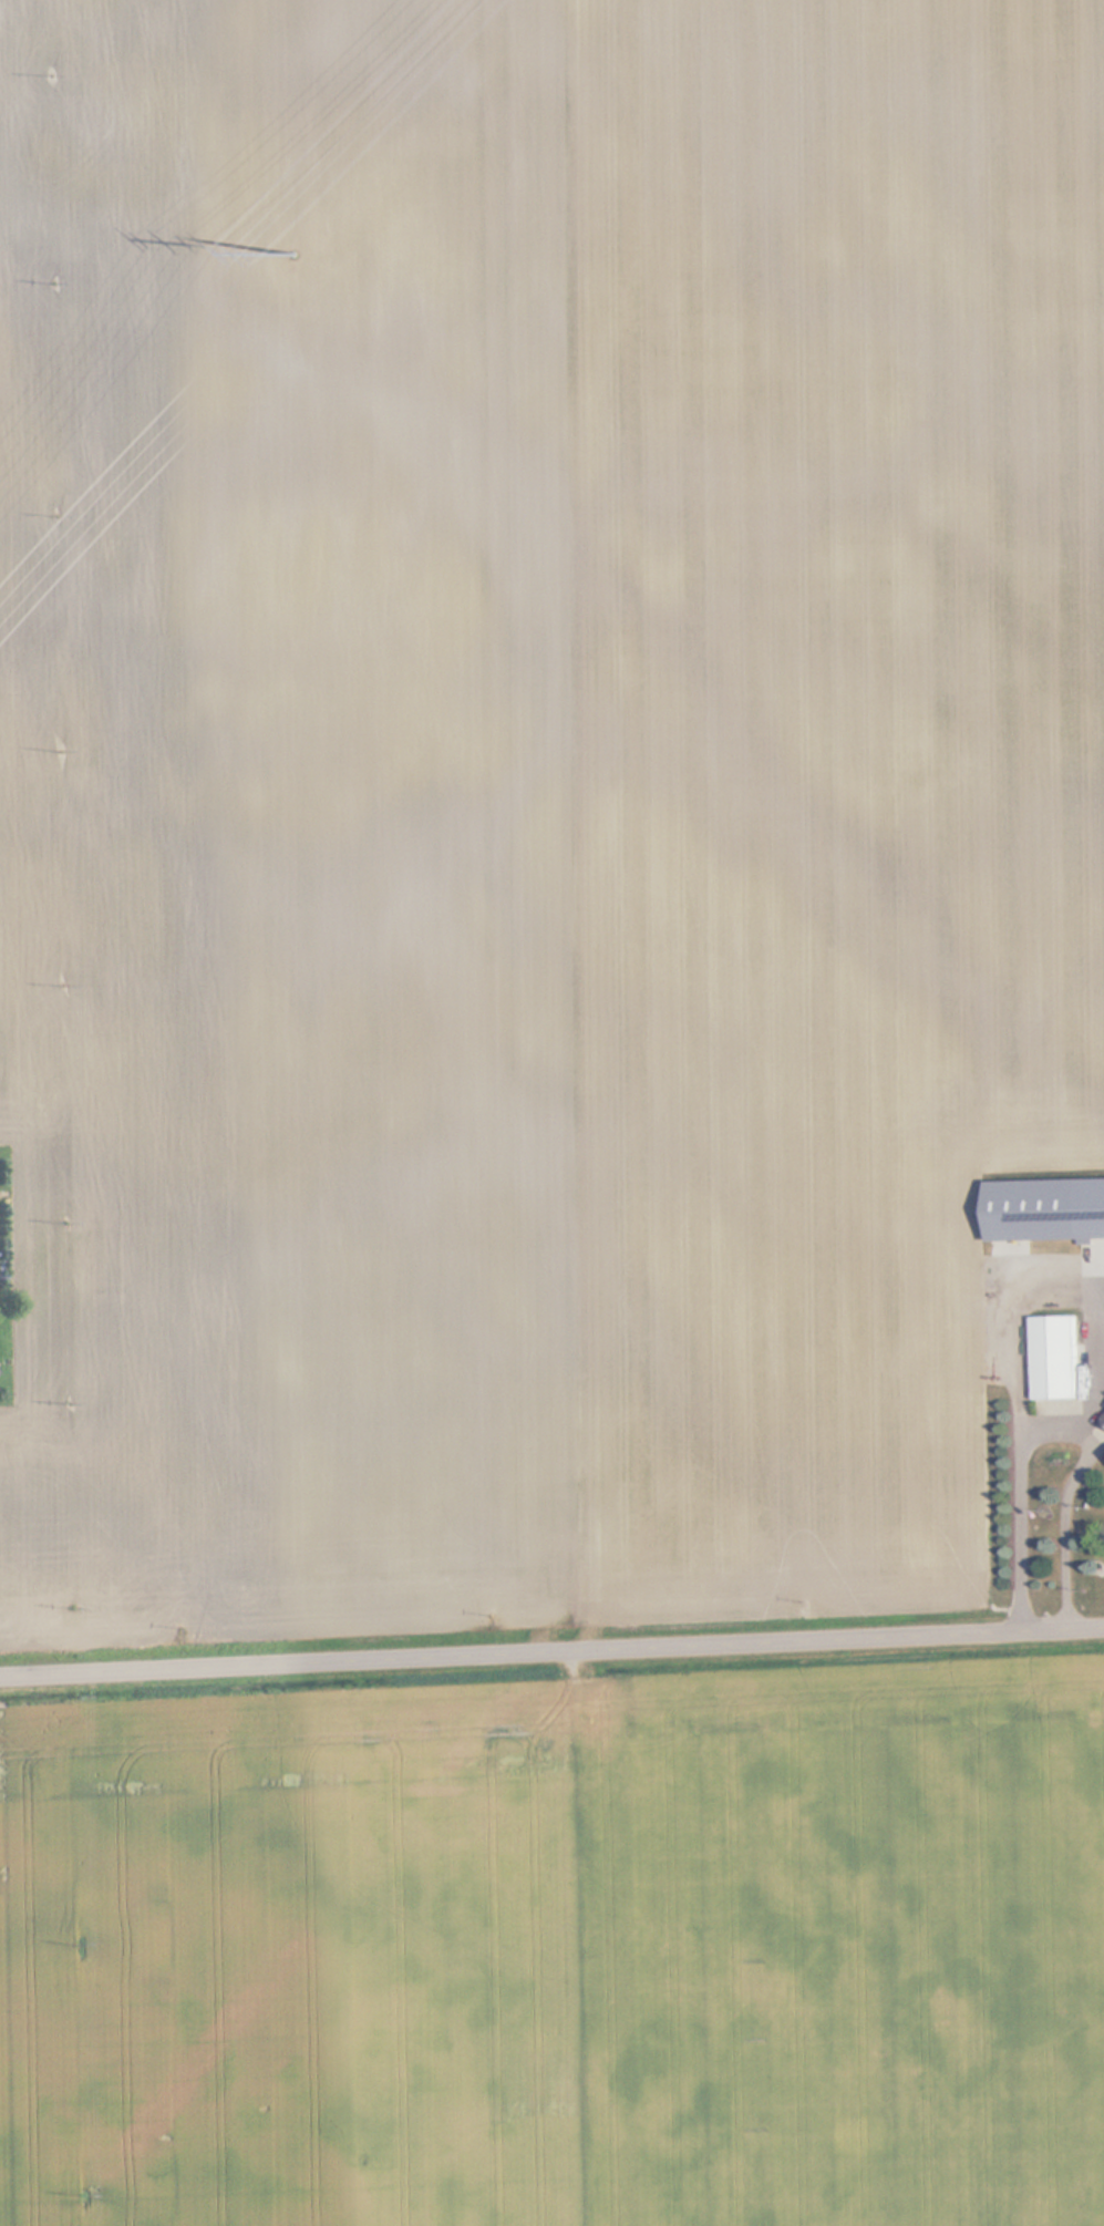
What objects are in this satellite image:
power tower: (288, 261)
building: (1053, 1215)
building: (1059, 1358)
road: (551, 1650)

